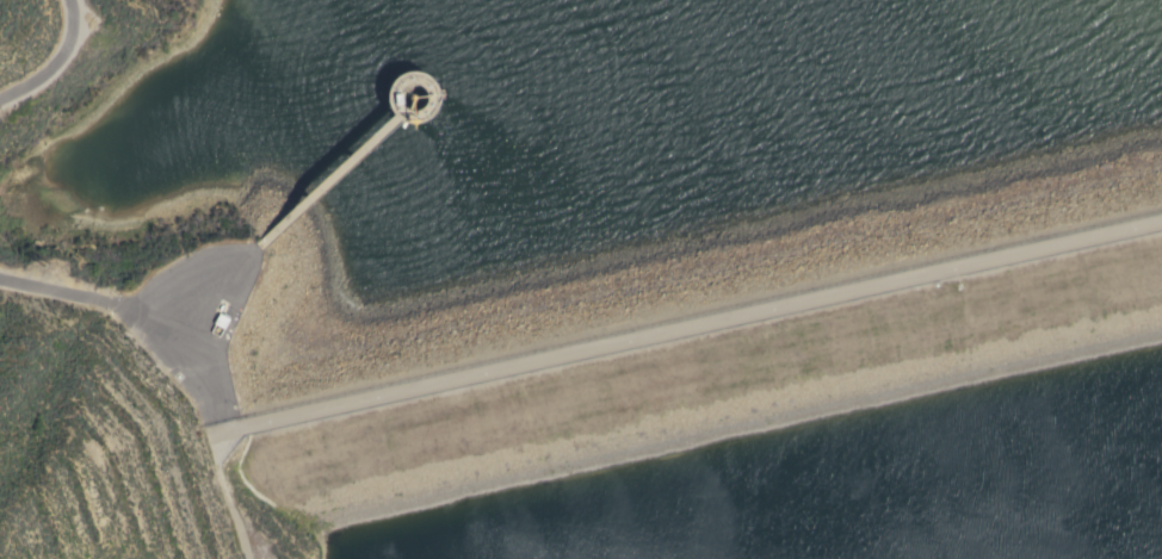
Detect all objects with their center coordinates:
road: (63, 67)
building: (418, 95)
building: (222, 319)
dam: (631, 324)
road: (550, 366)

